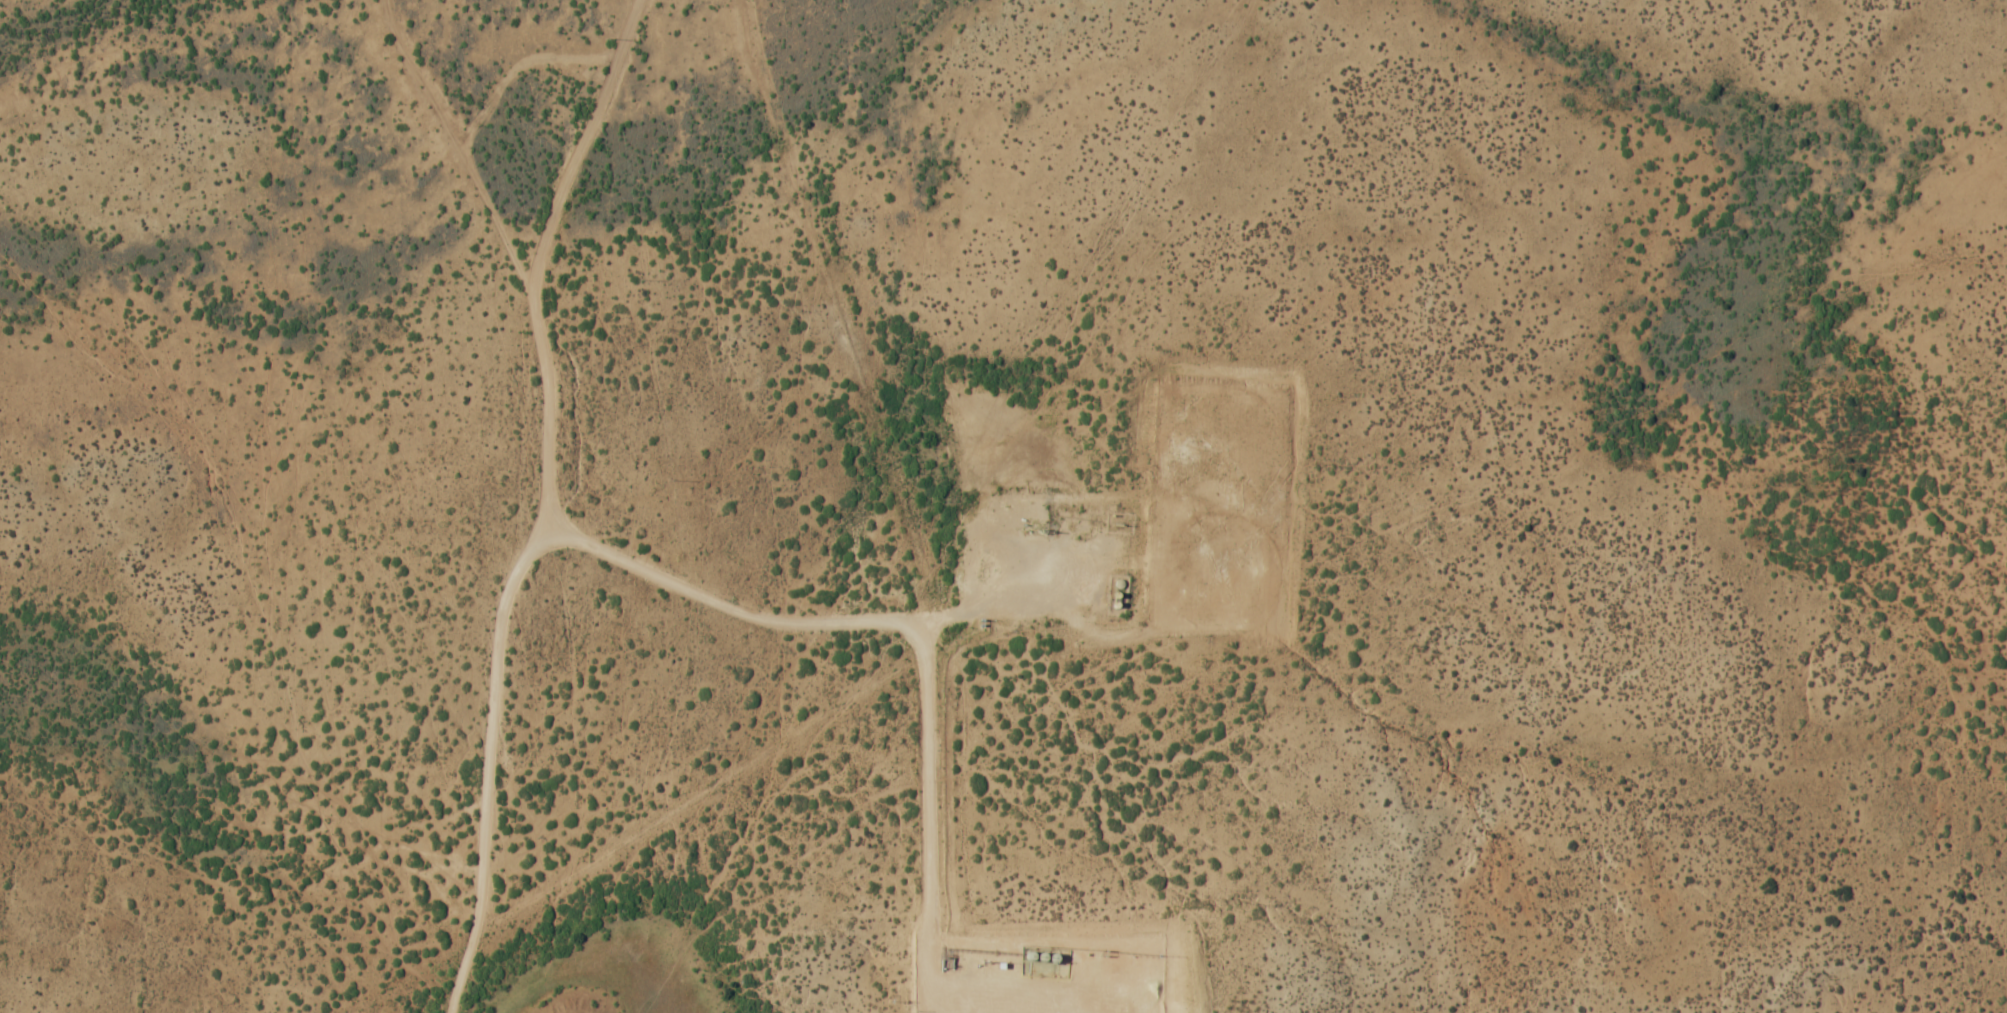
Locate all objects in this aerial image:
road: (457, 147)
road: (553, 502)
road: (807, 620)
road: (927, 809)

